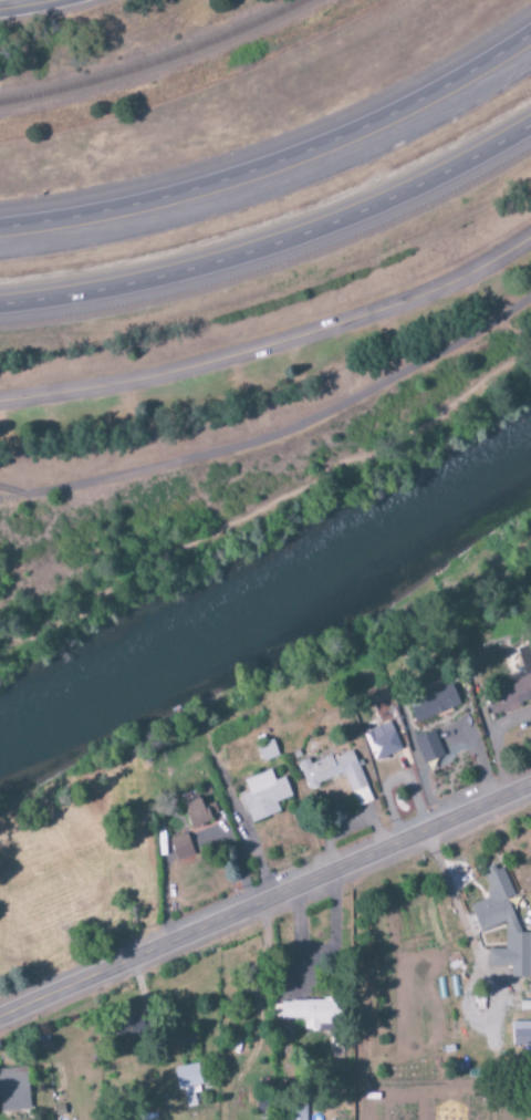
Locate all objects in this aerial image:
road: (24, 4)
railway: (169, 70)
road: (277, 164)
road: (275, 247)
road: (273, 346)
road: (279, 433)
road: (10, 490)
road: (272, 505)
river: (263, 587)
building: (514, 686)
building: (433, 703)
building: (382, 742)
building: (428, 747)
building: (267, 751)
building: (336, 775)
building: (263, 796)
building: (180, 848)
road: (264, 900)
building: (492, 912)
building: (513, 955)
building: (310, 1012)
building: (128, 1028)
building: (521, 1035)
building: (188, 1083)
building: (13, 1090)

